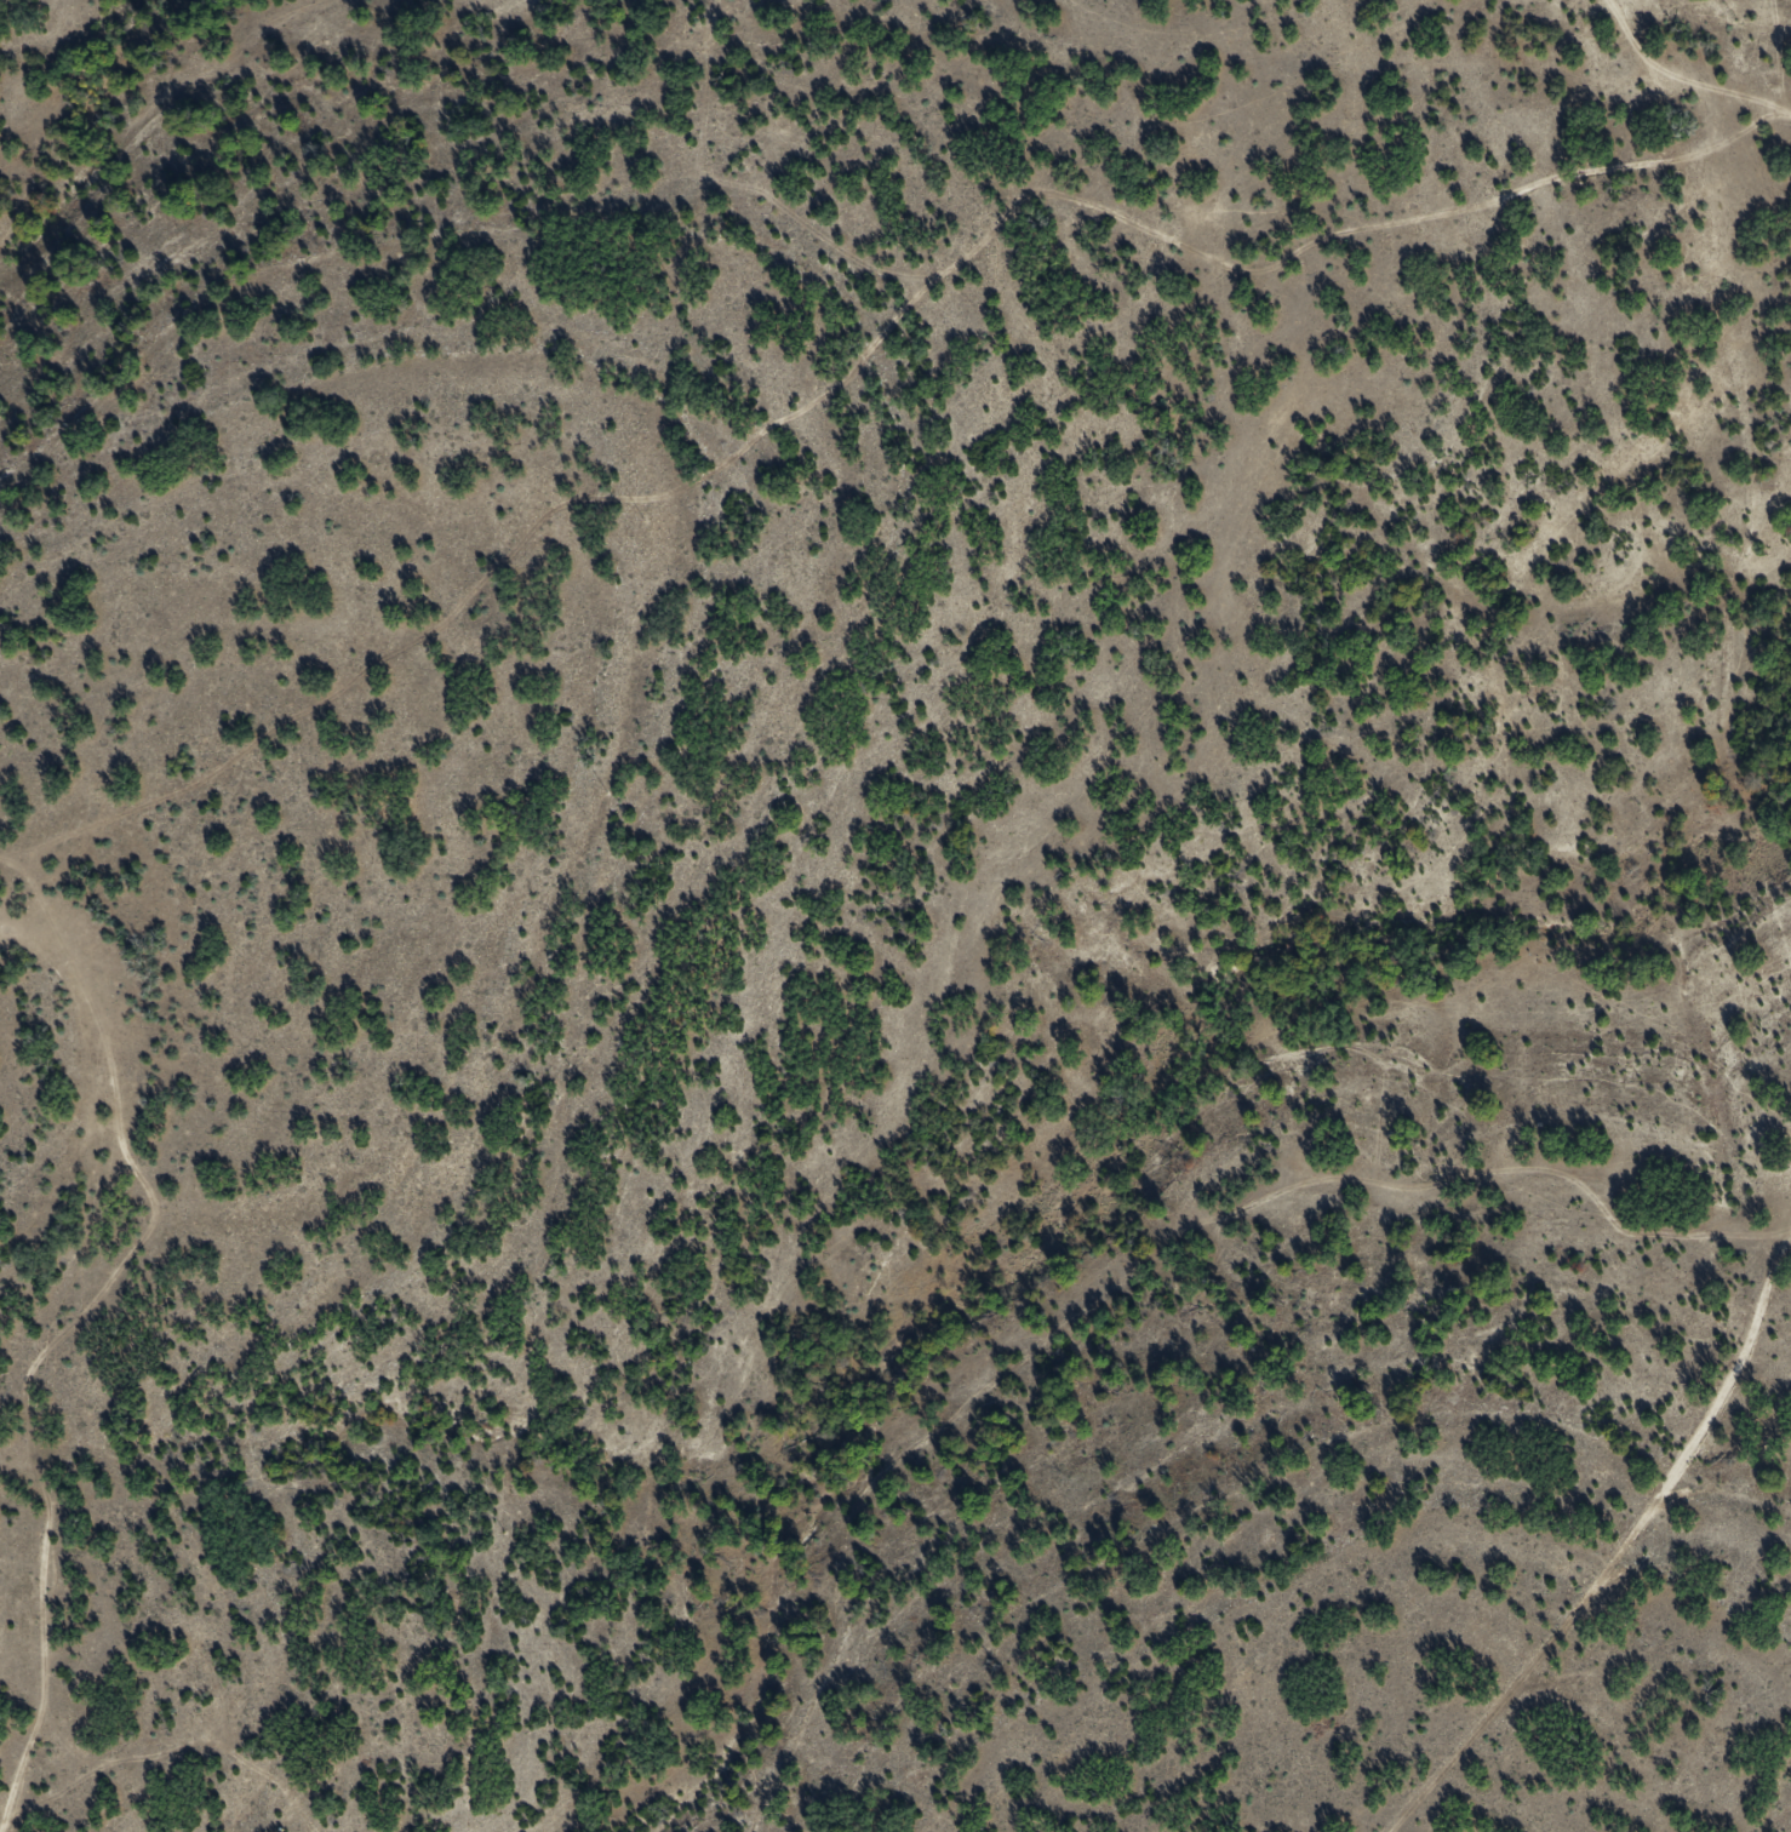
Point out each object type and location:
road: (91, 1312)
road: (1770, 1814)

